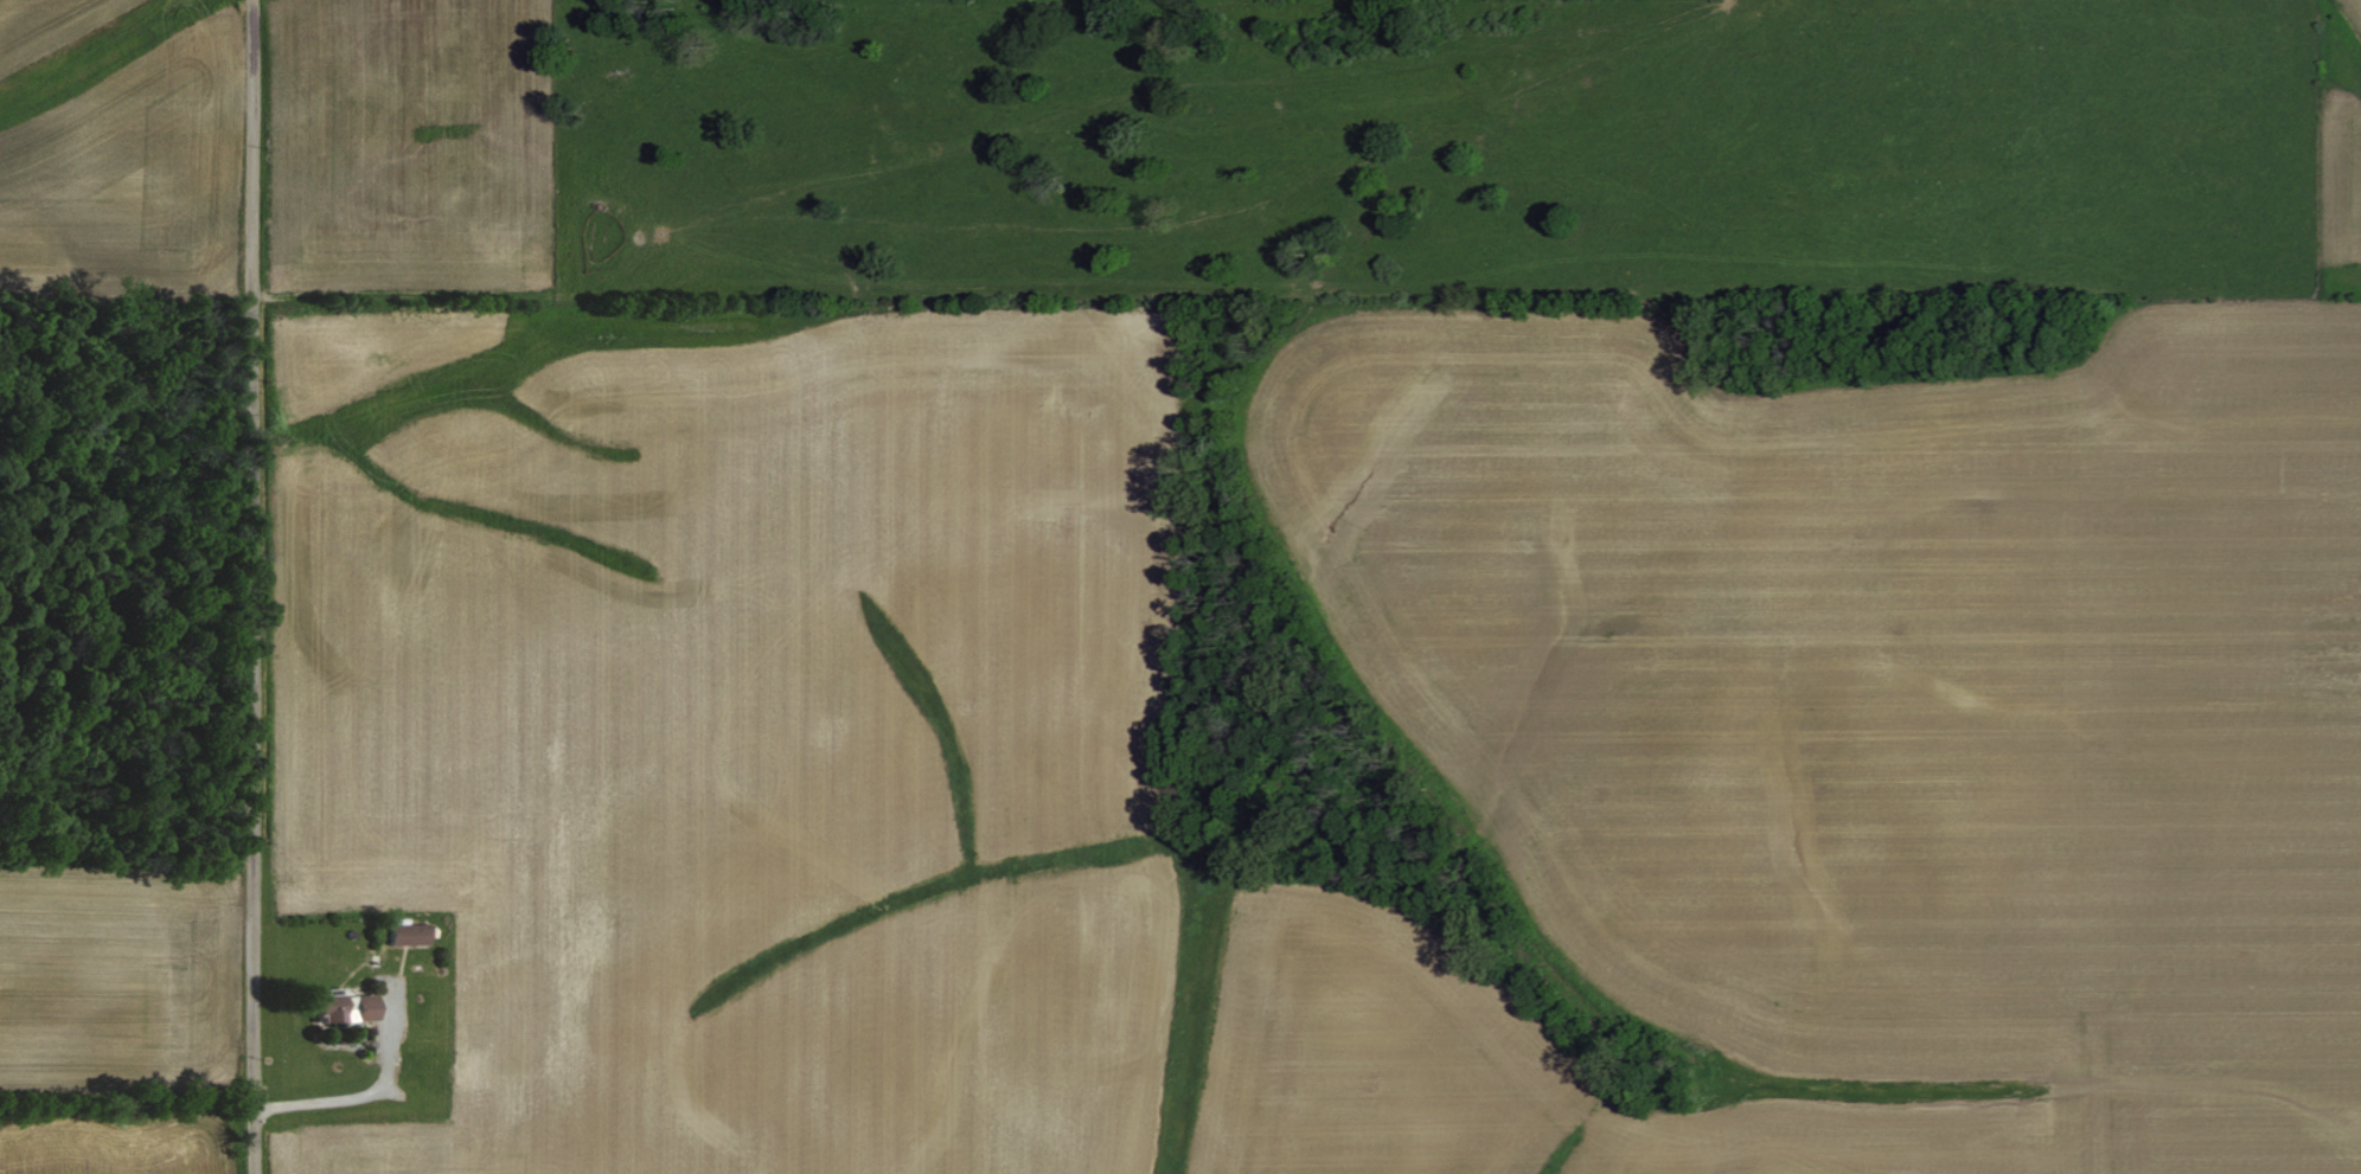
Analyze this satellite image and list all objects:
road: (249, 586)
road: (356, 1093)

